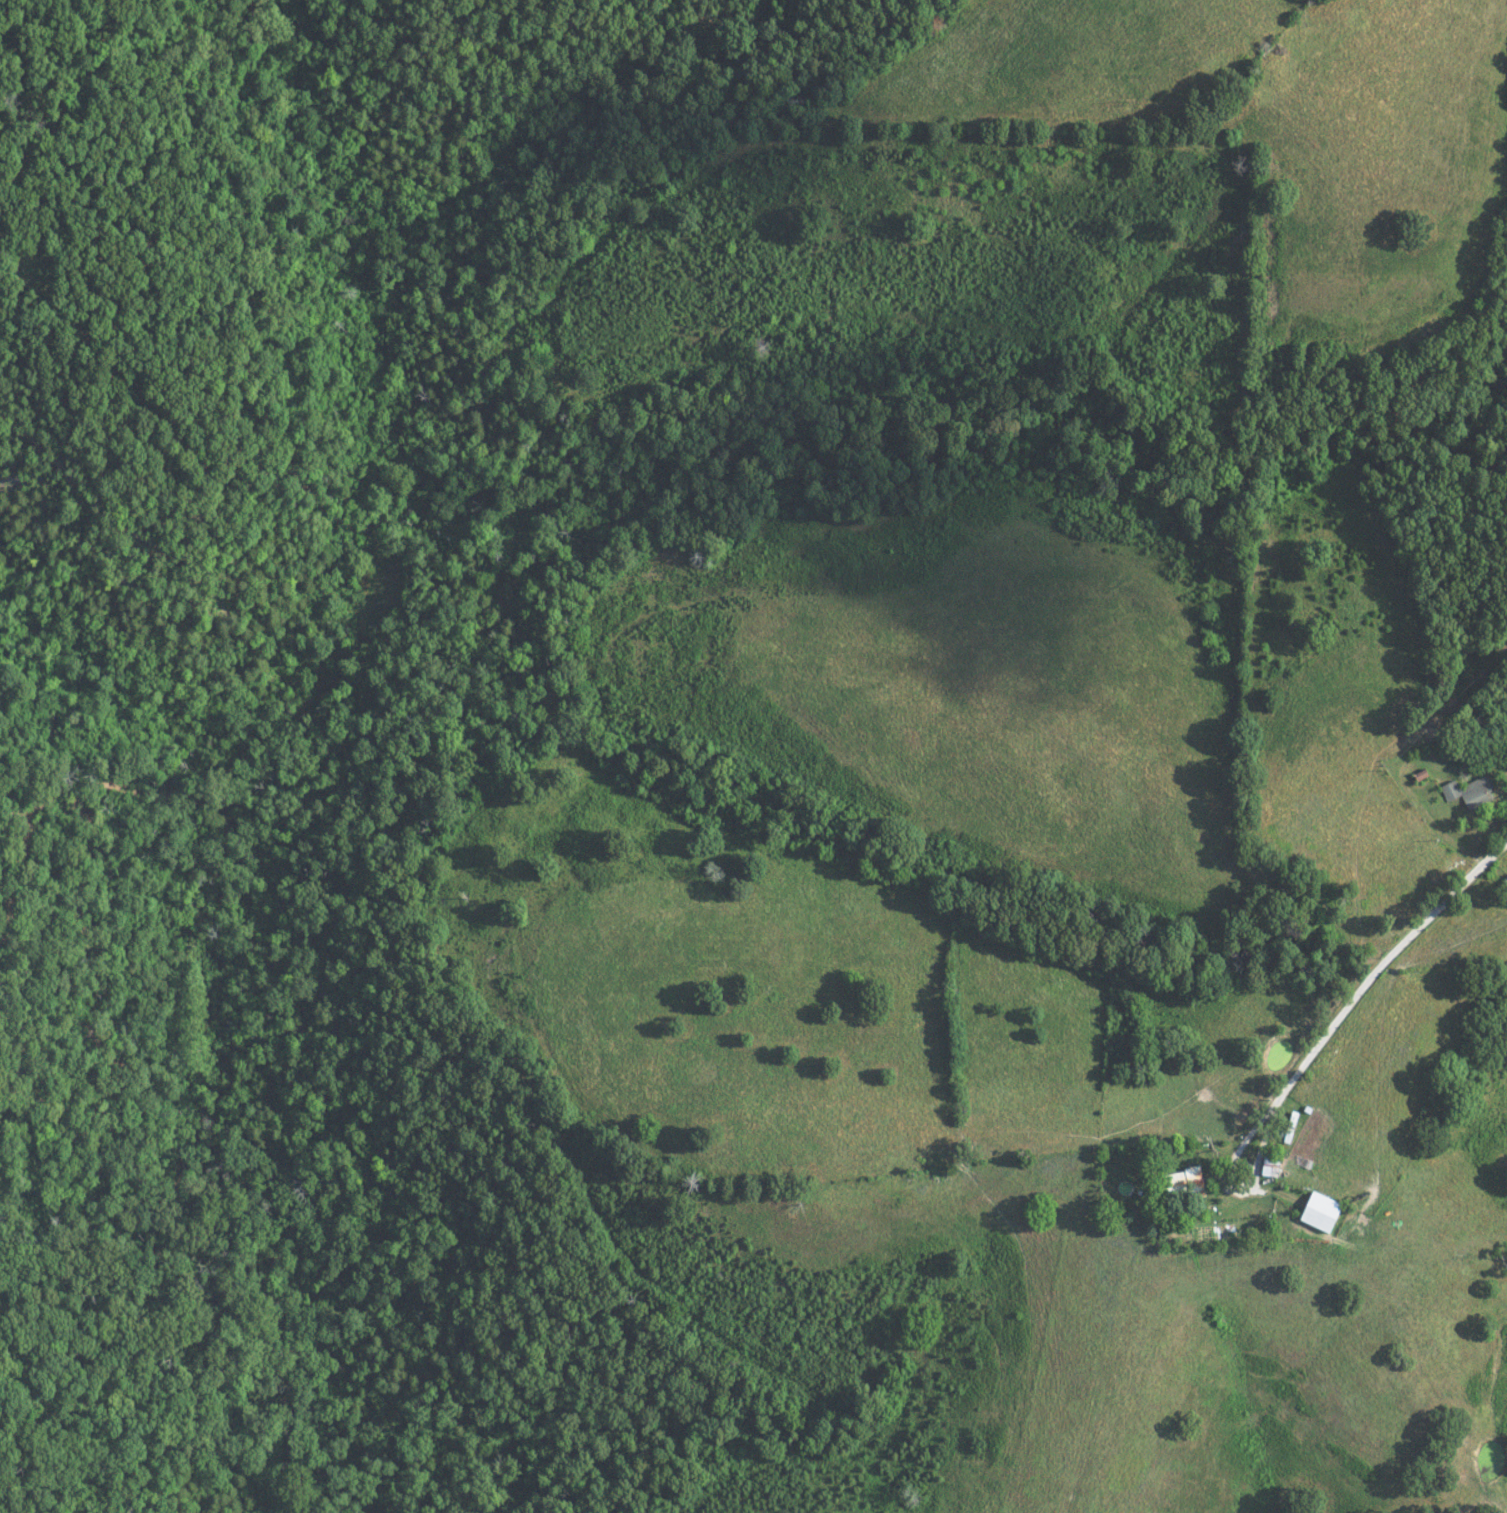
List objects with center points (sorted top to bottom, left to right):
building: (1468, 790)
road: (1381, 967)
building: (1272, 1164)
road: (1229, 1189)
building: (1325, 1211)

